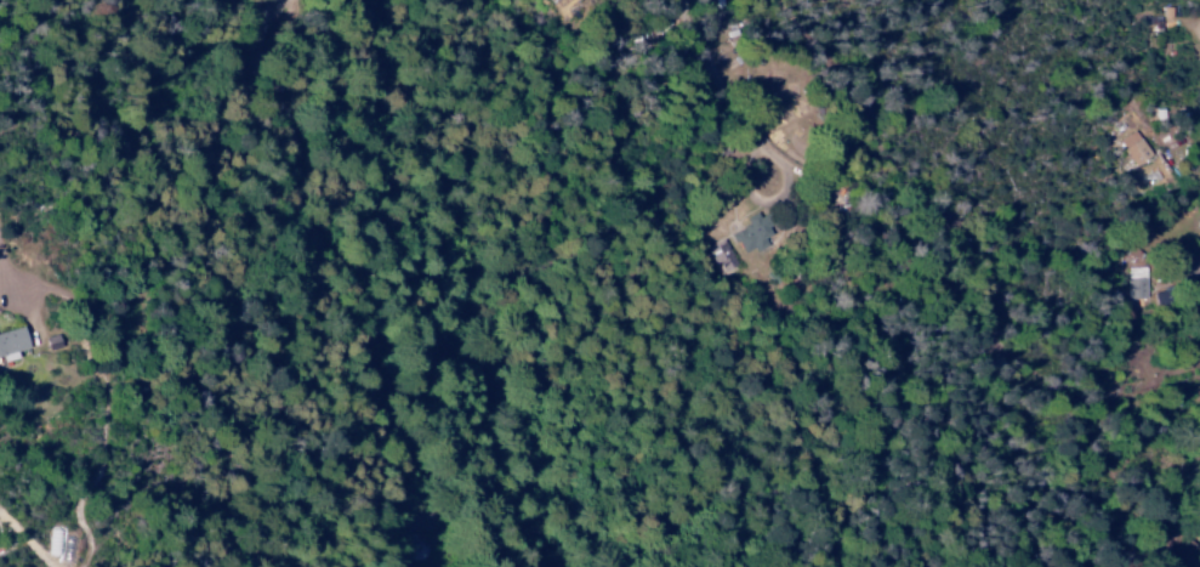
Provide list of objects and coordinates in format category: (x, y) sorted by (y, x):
building: (553, 0)
building: (1132, 148)
building: (750, 233)
building: (721, 257)
road: (922, 276)
building: (1134, 282)
building: (10, 344)

